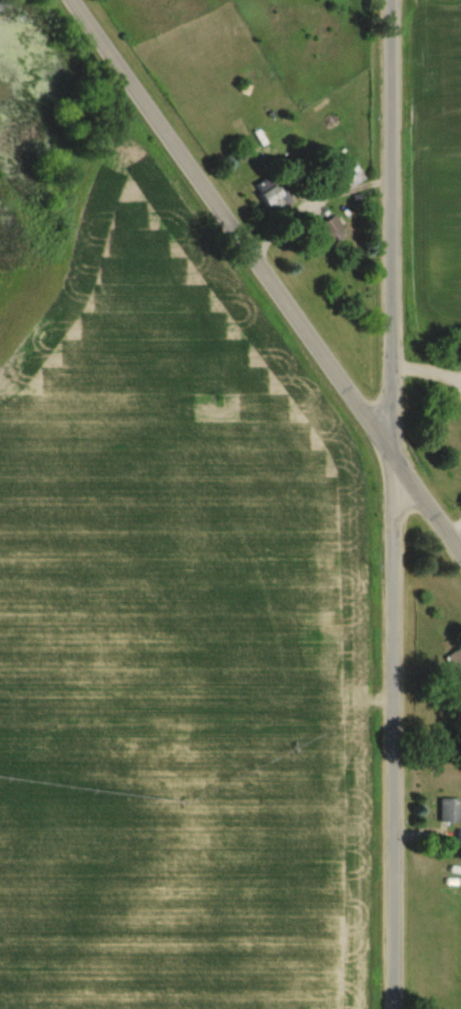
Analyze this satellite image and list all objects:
building: (348, 169)
crop: (446, 182)
building: (270, 195)
road: (315, 214)
building: (332, 230)
road: (266, 277)
road: (390, 504)
crop: (176, 641)
building: (455, 664)
building: (449, 810)

